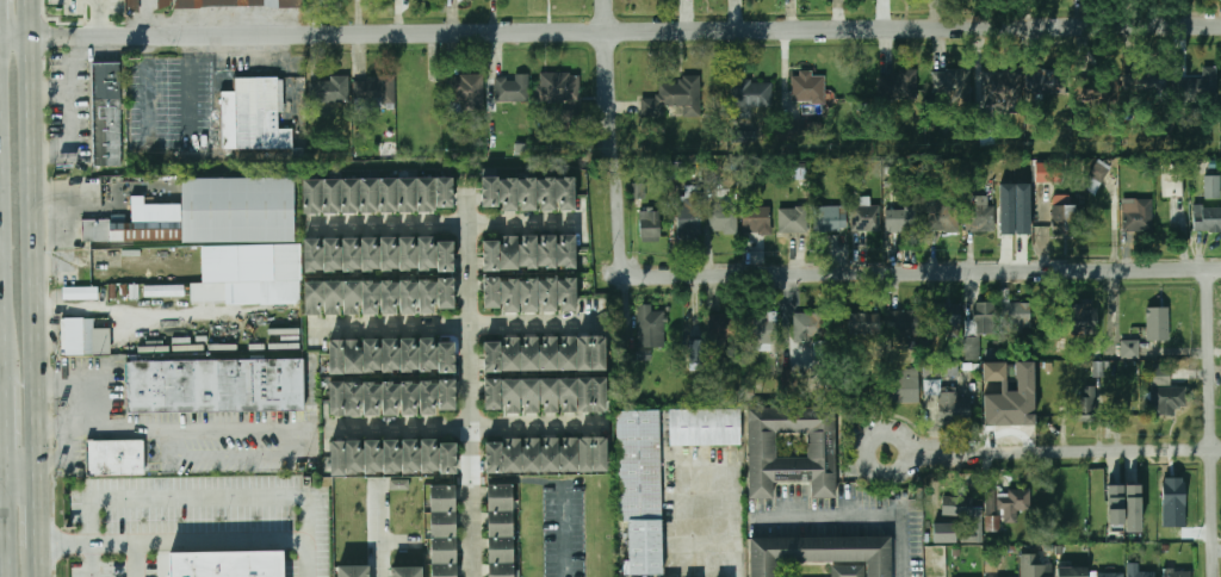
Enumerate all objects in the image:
building: (166, 4)
building: (238, 4)
building: (132, 5)
road: (30, 20)
road: (625, 32)
road: (16, 42)
building: (1041, 83)
building: (1145, 83)
building: (898, 86)
building: (1198, 86)
building: (559, 87)
building: (810, 87)
building: (1003, 87)
building: (513, 88)
building: (955, 88)
building: (329, 89)
building: (465, 89)
building: (373, 91)
building: (1097, 92)
building: (752, 94)
building: (673, 95)
building: (106, 113)
building: (253, 114)
building: (570, 119)
building: (794, 130)
road: (610, 138)
building: (1173, 180)
building: (1213, 187)
building: (489, 191)
building: (426, 193)
building: (444, 193)
building: (545, 193)
building: (565, 193)
building: (407, 194)
building: (508, 194)
building: (527, 194)
building: (349, 196)
building: (368, 196)
building: (388, 196)
building: (311, 197)
building: (331, 197)
road: (58, 206)
building: (1015, 209)
building: (1138, 215)
building: (942, 217)
building: (830, 218)
building: (866, 218)
building: (980, 218)
building: (757, 219)
building: (901, 219)
building: (1064, 219)
building: (1207, 219)
building: (724, 221)
building: (793, 221)
building: (689, 222)
building: (650, 224)
road: (442, 225)
building: (223, 237)
building: (527, 252)
building: (546, 252)
building: (566, 252)
building: (426, 253)
building: (509, 253)
building: (388, 254)
building: (408, 254)
building: (312, 255)
building: (331, 255)
building: (349, 255)
building: (370, 255)
building: (445, 255)
building: (490, 255)
road: (35, 259)
road: (912, 273)
building: (163, 290)
building: (491, 292)
building: (80, 293)
building: (445, 293)
building: (566, 293)
building: (509, 294)
building: (528, 294)
building: (547, 294)
building: (408, 296)
building: (427, 296)
building: (370, 297)
building: (389, 297)
building: (314, 298)
building: (333, 298)
building: (351, 298)
building: (1019, 315)
building: (1084, 317)
building: (950, 318)
building: (986, 318)
road: (1, 322)
building: (901, 322)
building: (864, 323)
building: (1158, 323)
building: (810, 324)
road: (452, 327)
building: (651, 327)
building: (758, 328)
building: (719, 329)
building: (85, 337)
building: (972, 348)
building: (1132, 349)
building: (547, 353)
building: (566, 353)
building: (583, 353)
building: (597, 353)
building: (509, 354)
building: (528, 354)
building: (408, 355)
building: (427, 355)
building: (351, 356)
building: (370, 356)
building: (389, 356)
building: (446, 356)
building: (491, 356)
building: (334, 358)
road: (93, 378)
road: (470, 381)
building: (793, 383)
building: (215, 385)
building: (903, 385)
building: (1166, 390)
building: (597, 393)
building: (445, 395)
building: (490, 395)
building: (510, 395)
building: (529, 395)
building: (548, 395)
building: (568, 395)
building: (583, 395)
building: (1009, 396)
building: (409, 397)
building: (427, 397)
building: (334, 398)
building: (352, 398)
building: (370, 398)
building: (390, 398)
building: (954, 408)
building: (1085, 409)
road: (1211, 423)
building: (705, 427)
road: (4, 428)
road: (173, 428)
road: (467, 428)
road: (904, 439)
building: (819, 446)
road: (1065, 451)
building: (550, 454)
building: (569, 454)
building: (584, 454)
building: (599, 454)
building: (430, 455)
building: (447, 455)
building: (492, 455)
building: (512, 455)
building: (531, 455)
building: (373, 457)
building: (391, 457)
building: (411, 457)
building: (114, 458)
building: (336, 458)
building: (354, 458)
road: (23, 476)
road: (2, 477)
building: (398, 484)
building: (640, 488)
road: (190, 495)
building: (498, 497)
building: (1117, 497)
building: (441, 498)
building: (991, 501)
building: (1014, 505)
building: (1132, 508)
road: (41, 511)
building: (967, 517)
road: (835, 519)
building: (441, 523)
building: (498, 523)
building: (992, 523)
road: (731, 525)
road: (380, 526)
road: (5, 527)
building: (943, 533)
road: (182, 540)
road: (402, 540)
building: (442, 550)
building: (498, 550)
building: (819, 553)
road: (904, 557)
road: (137, 559)
road: (42, 563)
building: (229, 563)
building: (1035, 566)
building: (442, 570)
building: (498, 570)
building: (352, 571)
building: (847, 571)
building: (1072, 571)
building: (1139, 571)
building: (404, 572)
building: (1174, 572)
building: (1110, 575)

